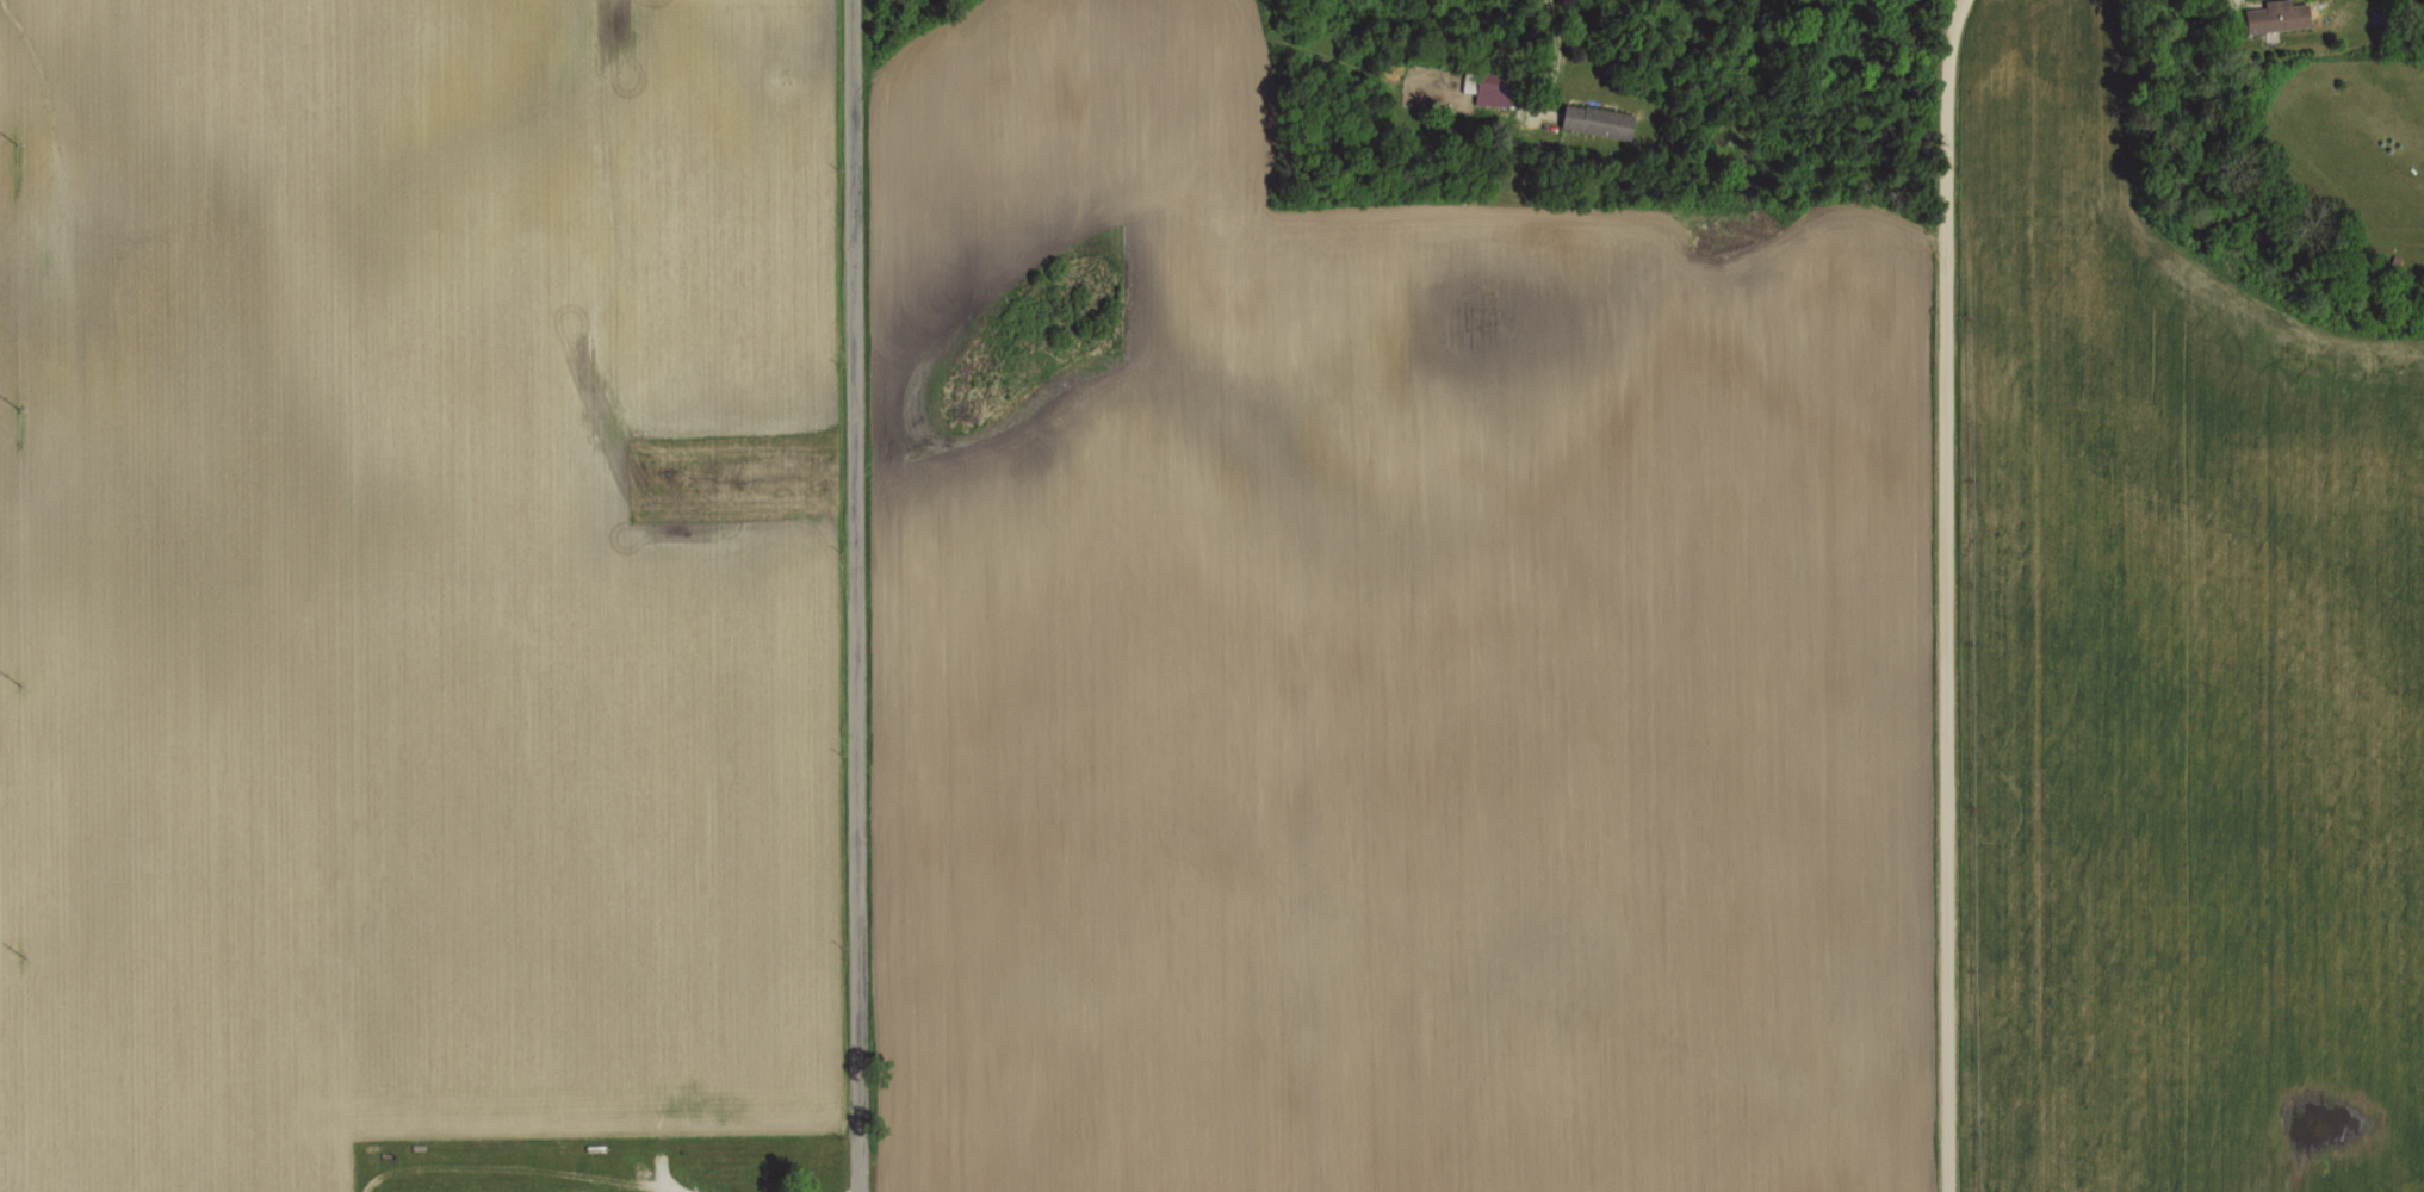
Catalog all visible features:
building: (2281, 15)
road: (1566, 38)
building: (1490, 87)
building: (1601, 120)
road: (1945, 595)
road: (853, 596)
building: (389, 1160)

